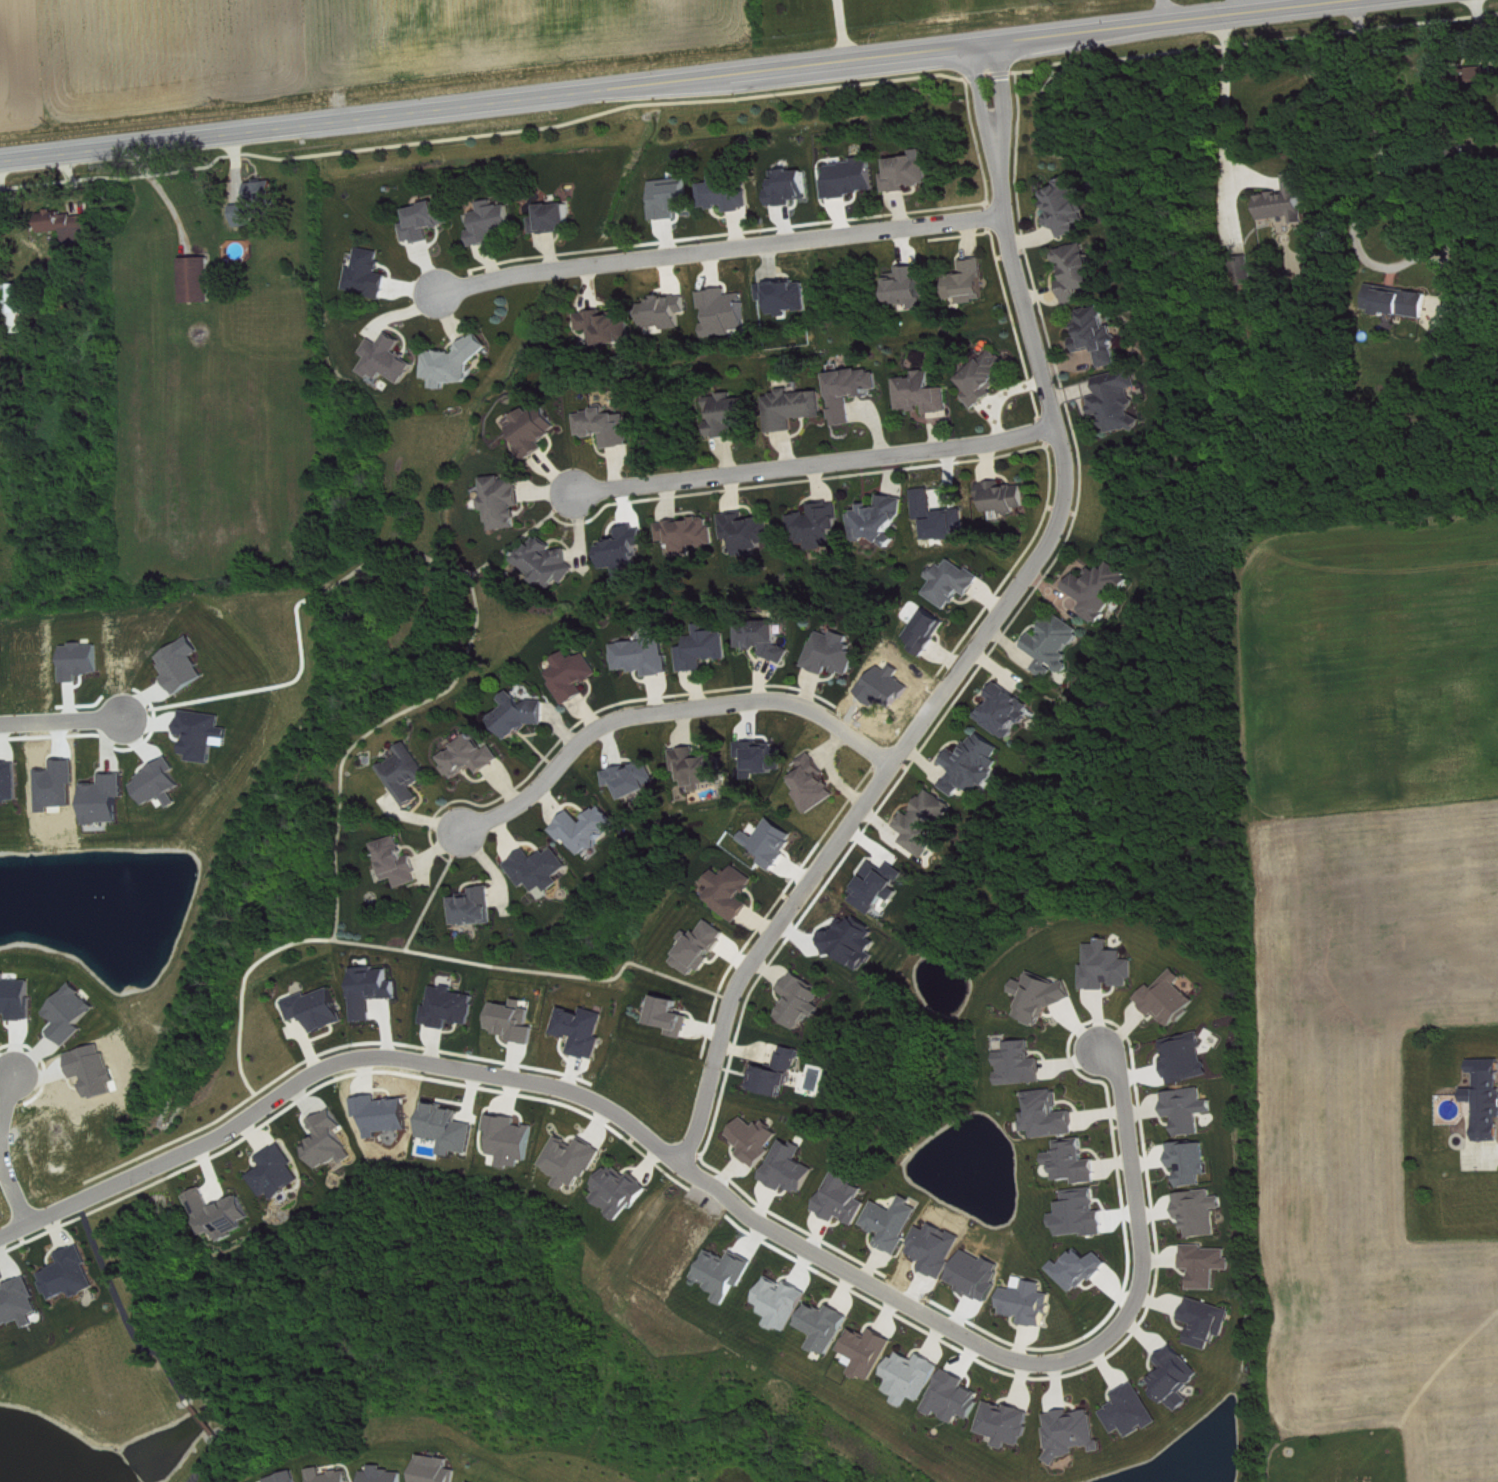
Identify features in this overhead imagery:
road: (1234, 6)
road: (1163, 10)
road: (840, 28)
building: (1486, 75)
building: (1446, 76)
road: (667, 77)
road: (1225, 95)
road: (1375, 129)
building: (901, 169)
building: (842, 175)
building: (792, 187)
building: (720, 189)
building: (1288, 201)
building: (261, 203)
building: (1068, 206)
building: (546, 214)
building: (430, 220)
building: (494, 222)
building: (72, 226)
road: (715, 247)
building: (1080, 271)
building: (370, 273)
building: (199, 279)
building: (971, 280)
building: (910, 287)
building: (1400, 301)
building: (23, 306)
building: (727, 311)
building: (667, 312)
building: (610, 327)
building: (1101, 335)
building: (391, 359)
building: (458, 362)
building: (990, 377)
building: (855, 391)
building: (926, 393)
building: (1120, 401)
building: (796, 408)
building: (732, 414)
building: (609, 426)
building: (537, 430)
road: (817, 461)
building: (1007, 497)
building: (507, 501)
building: (943, 517)
building: (882, 519)
building: (820, 526)
road: (523, 532)
building: (750, 532)
building: (691, 534)
building: (627, 549)
road: (370, 558)
road: (447, 562)
building: (551, 562)
road: (462, 567)
building: (956, 583)
building: (1102, 590)
road: (985, 629)
building: (930, 631)
building: (766, 638)
building: (1057, 644)
building: (705, 648)
building: (836, 653)
building: (646, 656)
building: (185, 667)
building: (576, 675)
road: (665, 708)
building: (1010, 711)
building: (522, 715)
road: (59, 717)
road: (366, 732)
building: (473, 756)
building: (976, 764)
building: (700, 769)
building: (410, 774)
building: (635, 779)
building: (11, 782)
building: (163, 784)
building: (817, 784)
building: (105, 802)
building: (928, 821)
building: (588, 829)
building: (773, 842)
building: (400, 862)
building: (542, 869)
building: (880, 886)
road: (433, 889)
building: (732, 891)
building: (476, 907)
building: (702, 947)
building: (1110, 966)
road: (535, 969)
building: (375, 990)
building: (1044, 996)
building: (17, 997)
building: (1173, 999)
building: (803, 1000)
building: (452, 1007)
building: (321, 1009)
building: (74, 1014)
building: (673, 1016)
building: (515, 1018)
building: (584, 1030)
building: (1189, 1058)
road: (333, 1063)
building: (1023, 1064)
building: (779, 1073)
road: (6, 1089)
building: (1487, 1097)
building: (1191, 1109)
building: (1050, 1115)
building: (451, 1129)
building: (333, 1140)
building: (513, 1140)
building: (757, 1140)
building: (574, 1161)
building: (1076, 1162)
building: (1193, 1162)
building: (792, 1168)
building: (281, 1172)
road: (15, 1192)
building: (621, 1192)
building: (846, 1198)
building: (1202, 1212)
building: (224, 1215)
building: (896, 1223)
building: (1208, 1264)
building: (727, 1273)
building: (74, 1275)
building: (1031, 1303)
building: (20, 1304)
road: (124, 1307)
building: (1209, 1322)
building: (827, 1326)
building: (871, 1352)
road: (1023, 1361)
building: (915, 1377)
building: (1178, 1378)
building: (957, 1397)
building: (1134, 1411)
road: (202, 1417)
building: (1009, 1423)
building: (1075, 1432)
road: (205, 1459)
building: (439, 1470)
building: (334, 1476)
building: (389, 1476)
building: (290, 1477)
road: (192, 1480)
building: (474, 1481)

